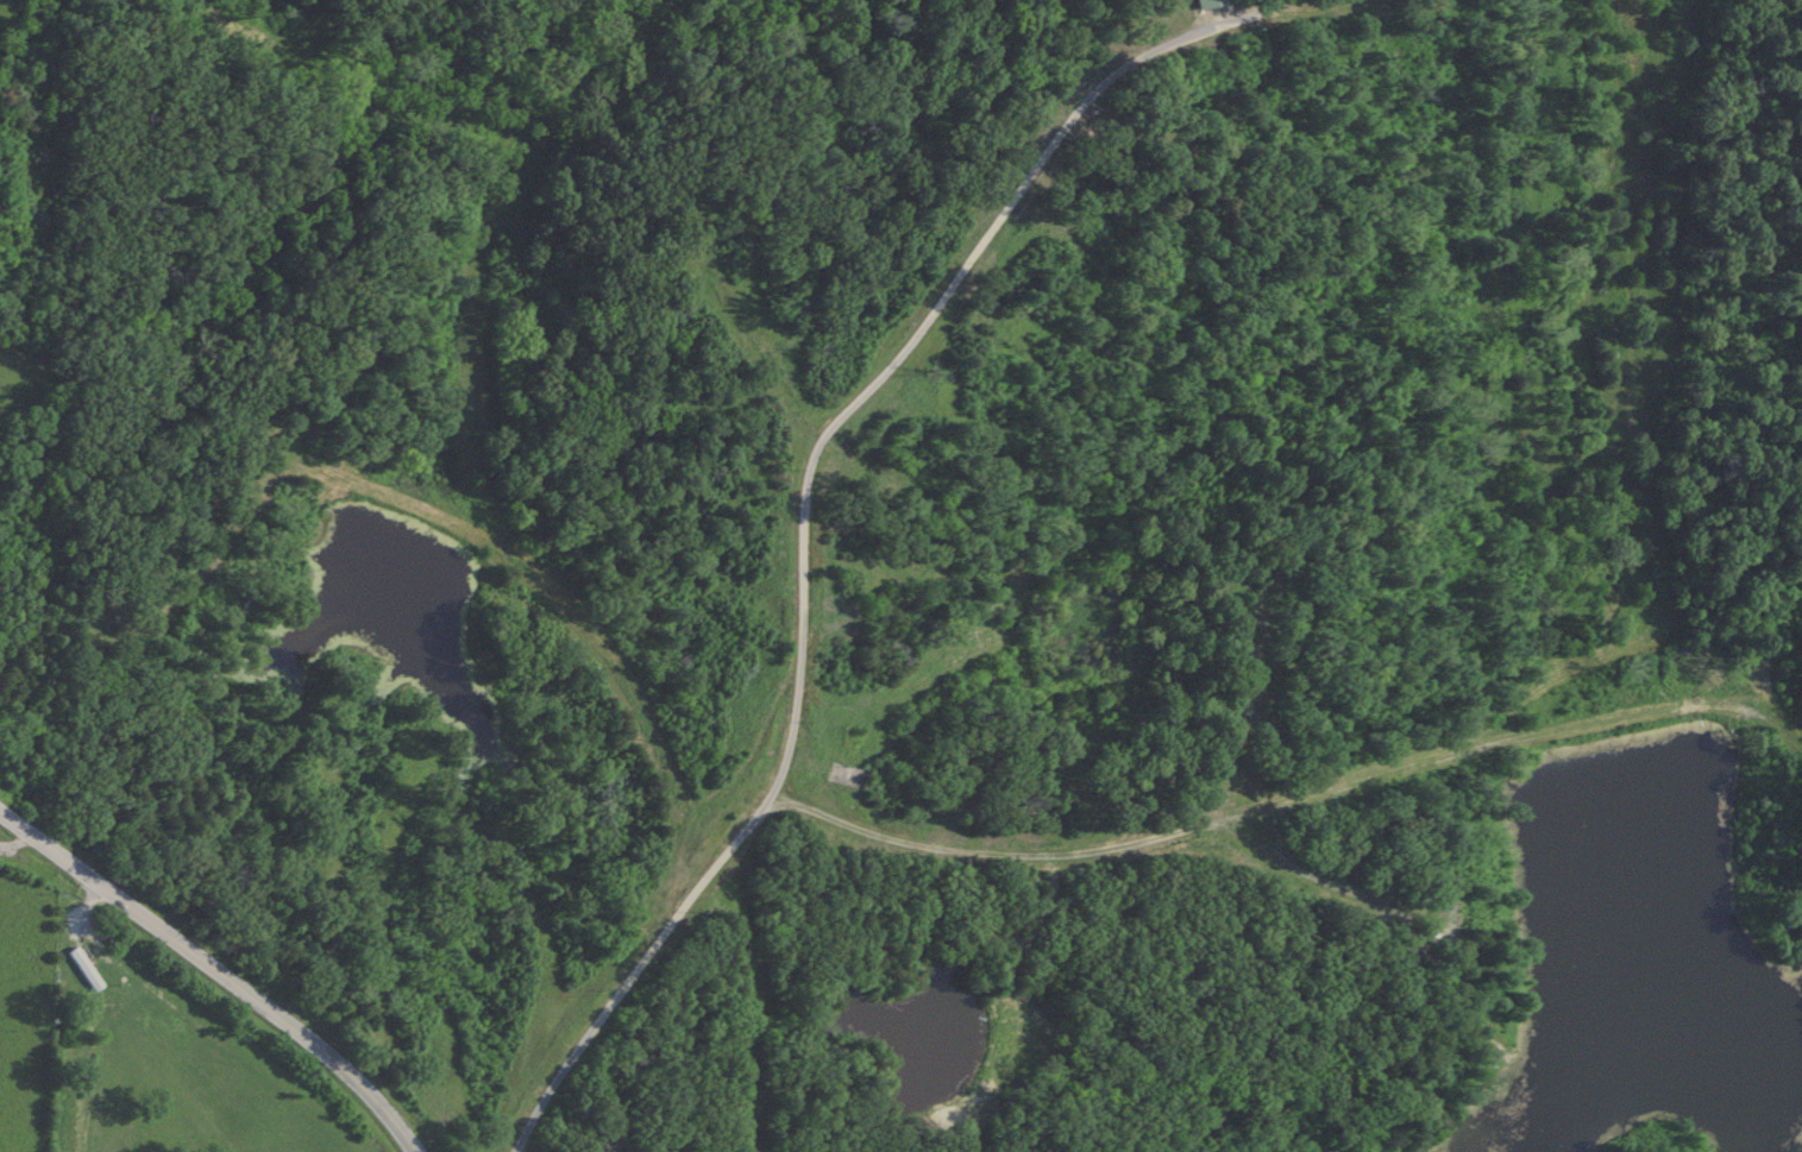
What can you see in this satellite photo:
building: (1210, 2)
building: (1, 200)
road: (808, 501)
building: (84, 969)
road: (219, 969)

